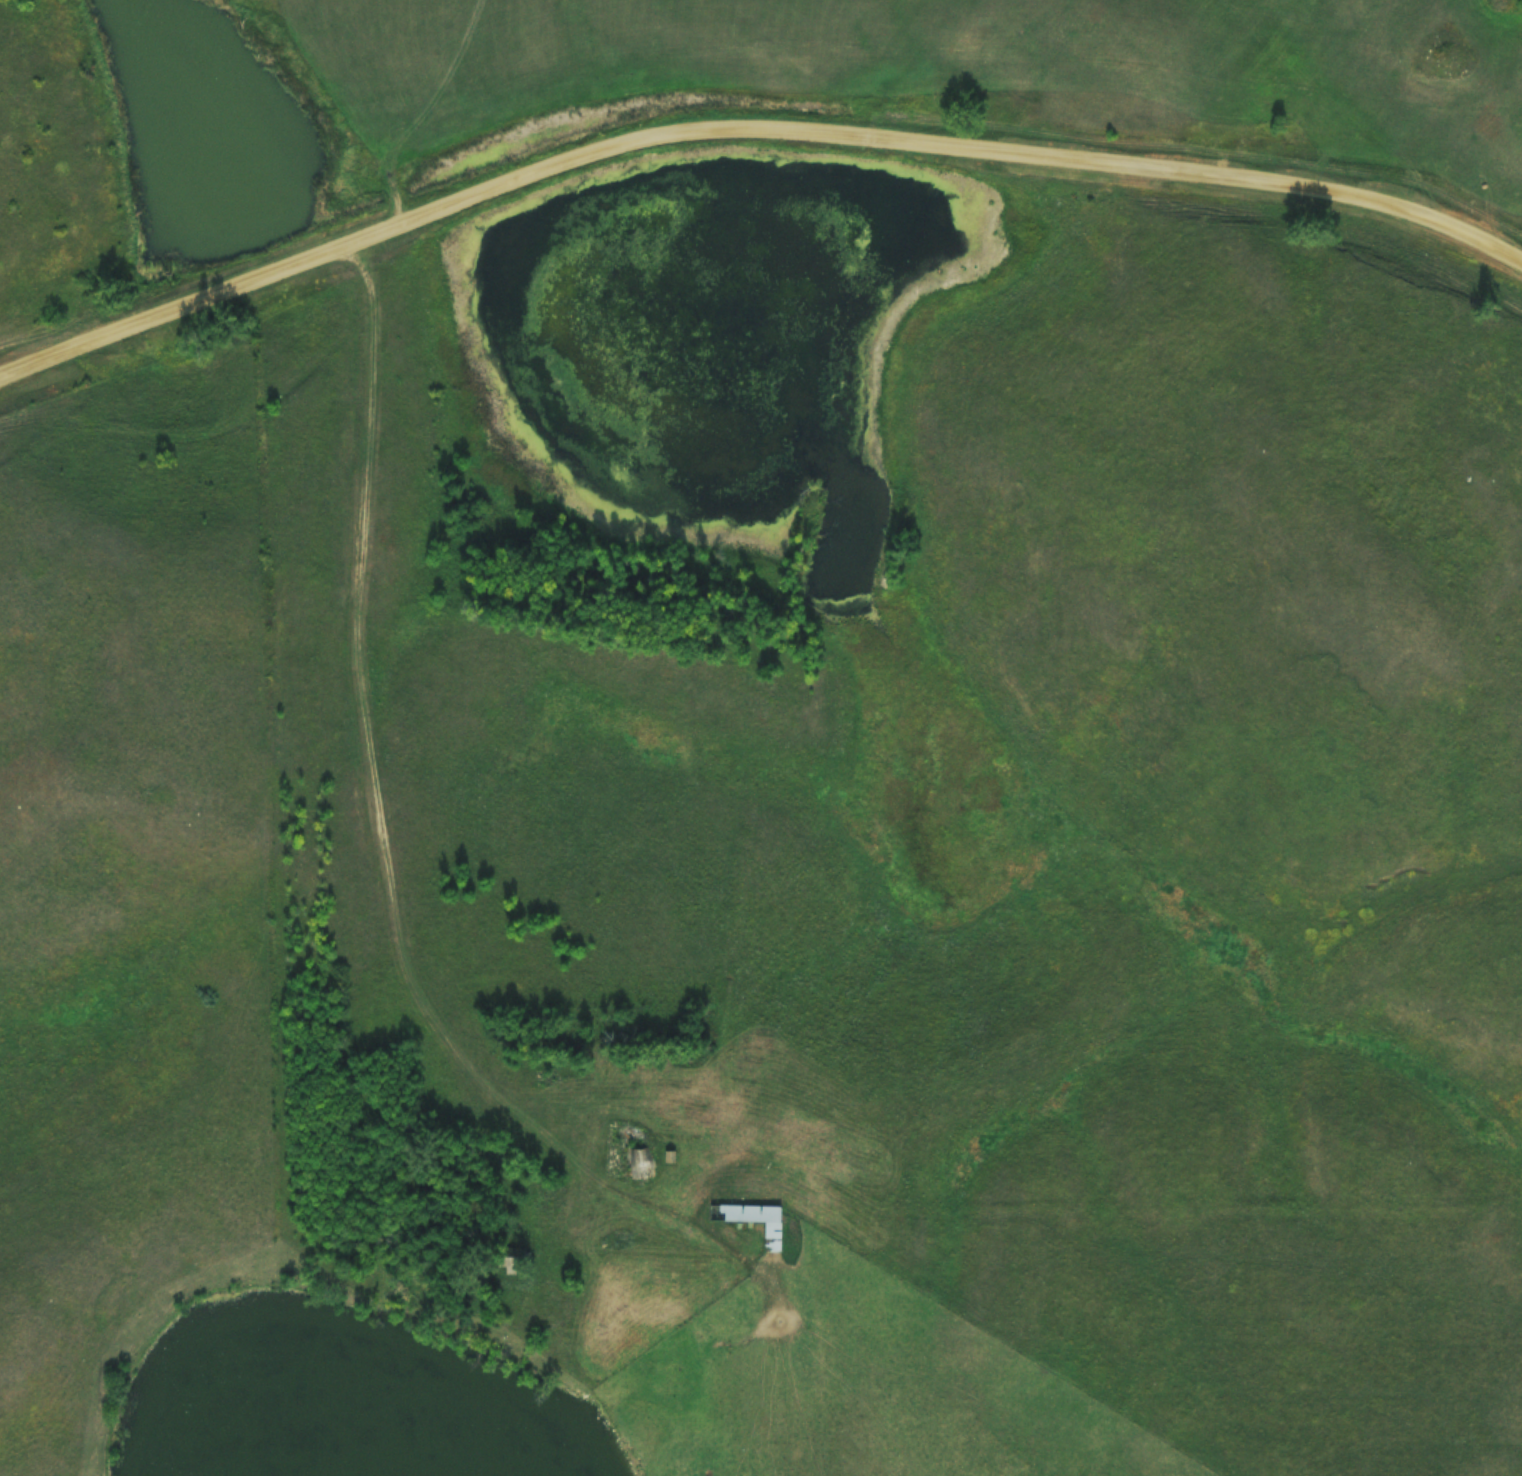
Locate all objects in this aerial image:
road: (748, 131)
building: (640, 1163)
building: (753, 1219)

